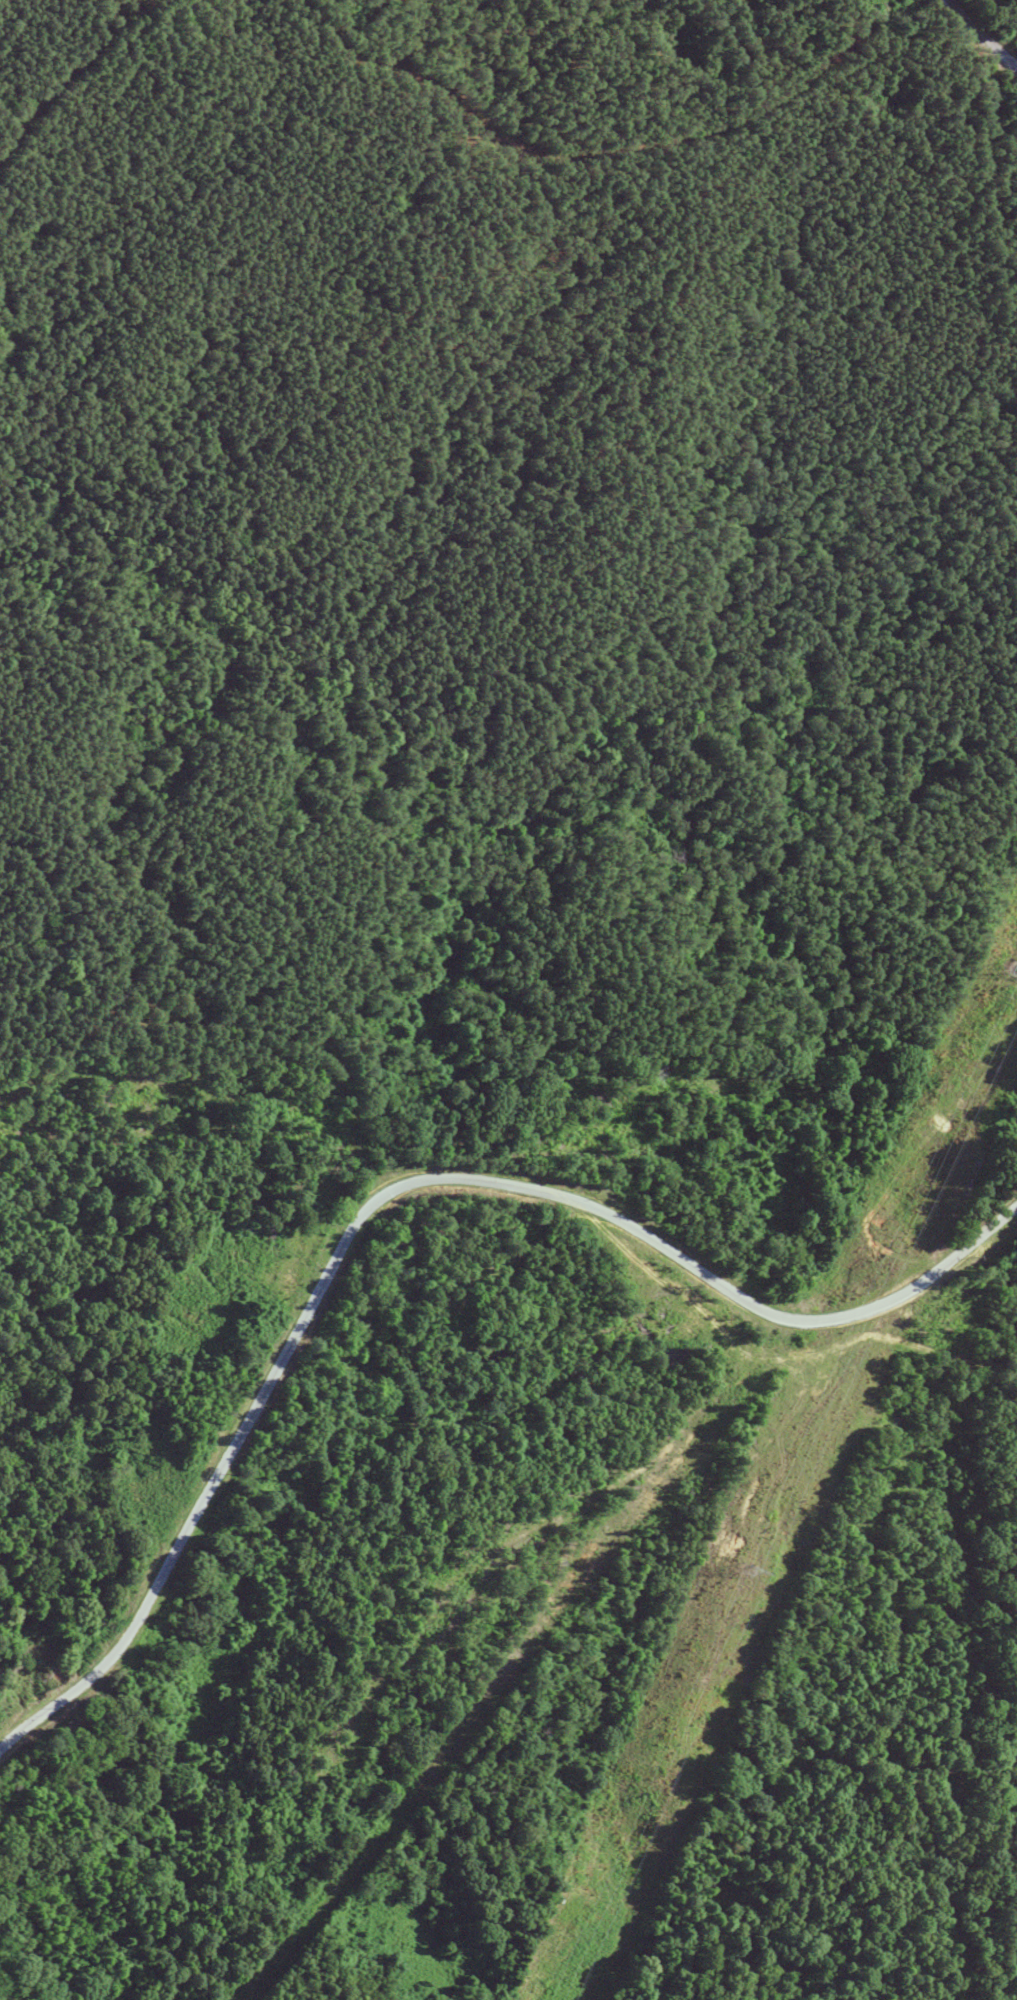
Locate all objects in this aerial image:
power tower: (1008, 969)
road: (386, 1172)
power tower: (745, 1574)

